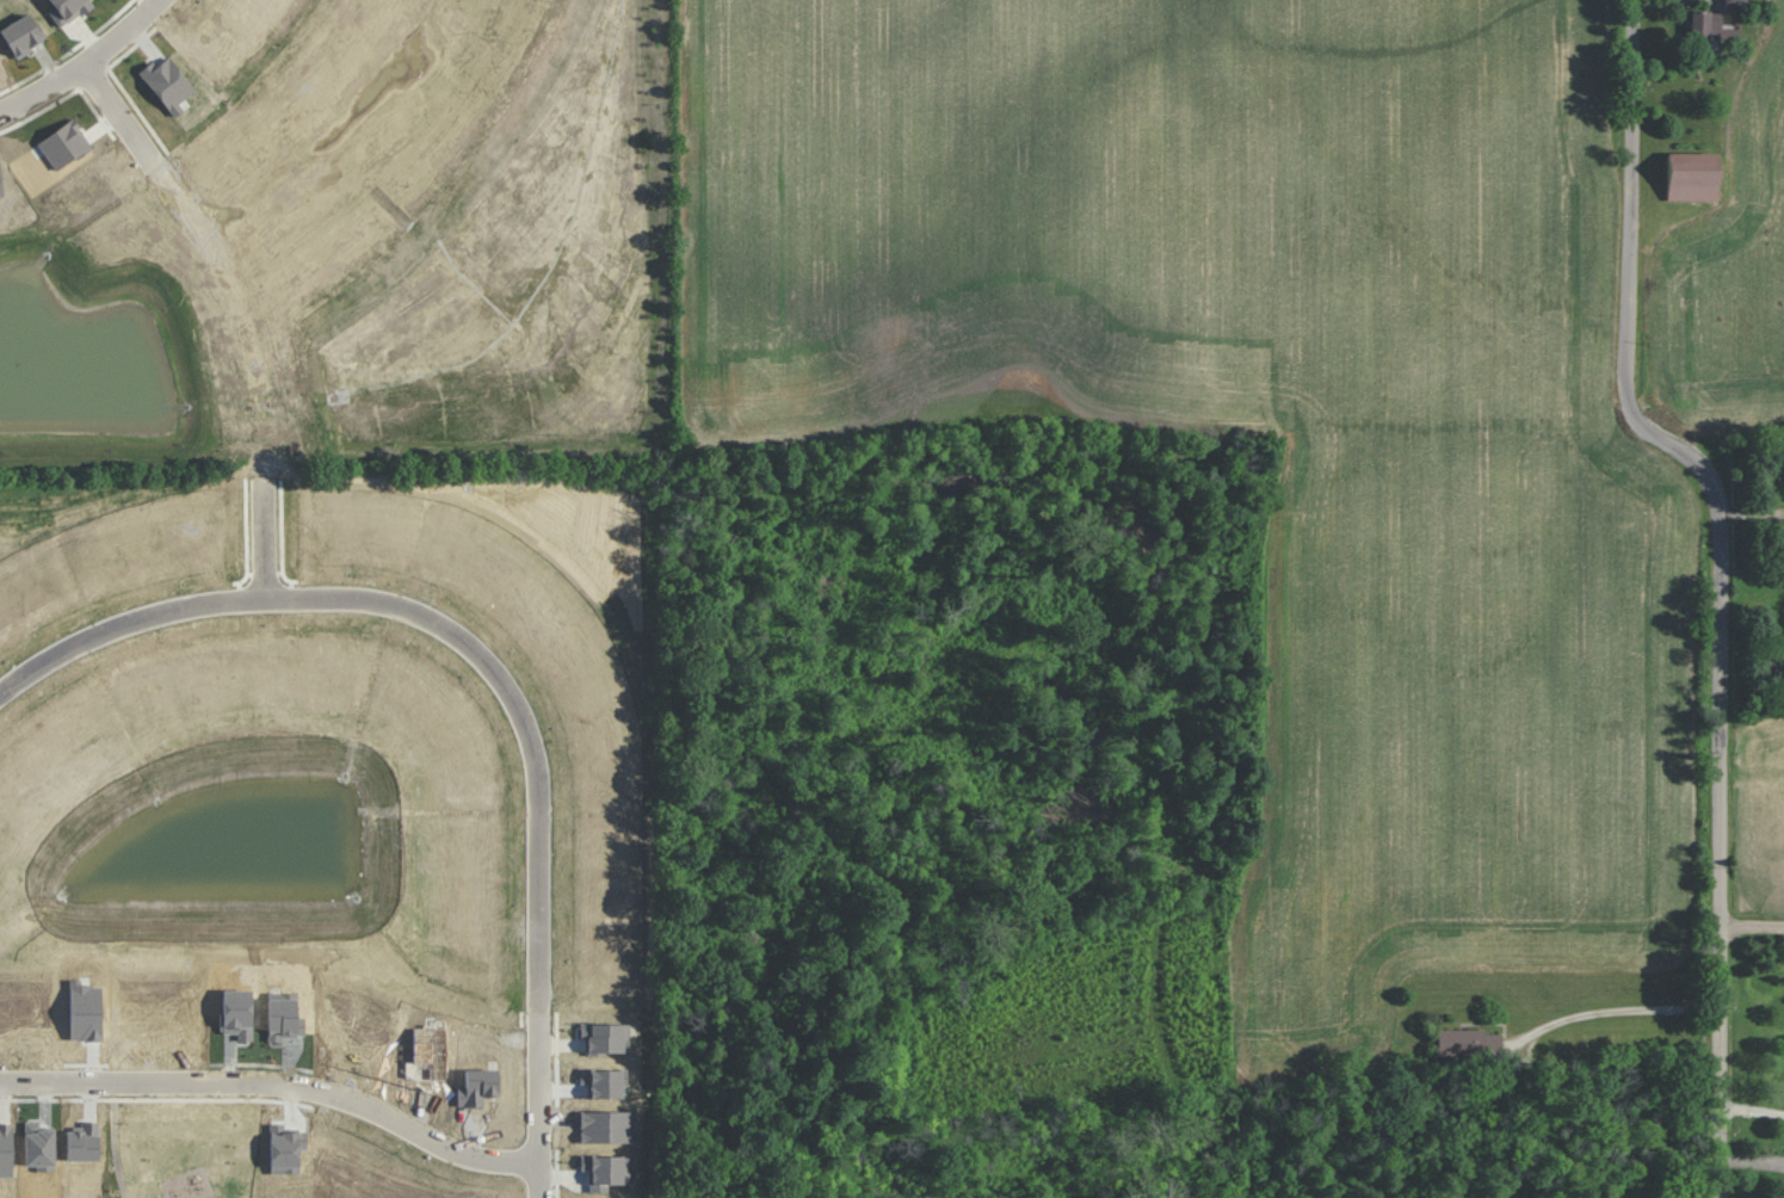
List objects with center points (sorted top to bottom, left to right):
building: (1733, 12)
building: (1703, 24)
road: (89, 69)
road: (359, 144)
building: (1691, 177)
road: (245, 316)
road: (1717, 579)
road: (486, 680)
road: (1751, 925)
road: (1609, 1011)
building: (1465, 1042)
road: (277, 1087)
road: (93, 1095)
road: (296, 1097)
road: (193, 1103)
road: (1751, 1109)
road: (116, 1150)
park: (184, 1153)

